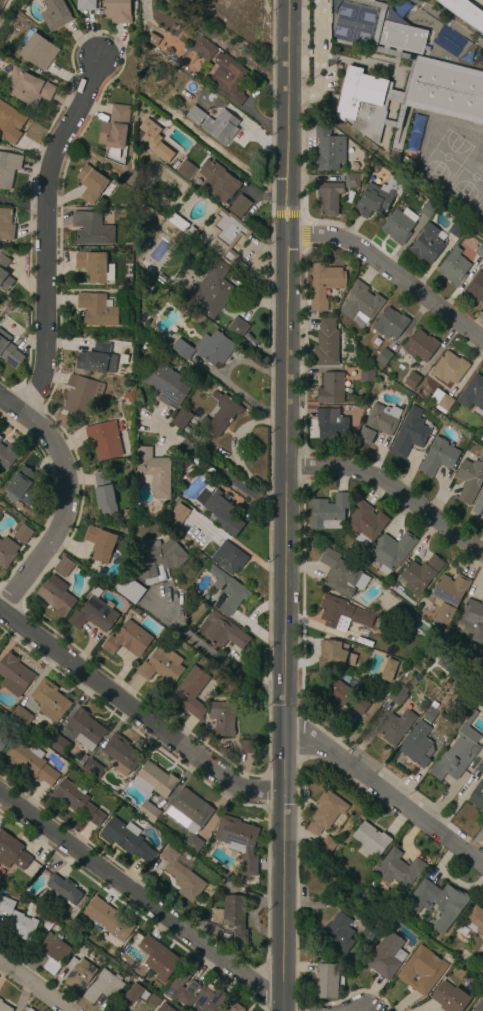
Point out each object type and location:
building: (85, 5)
building: (117, 11)
building: (465, 13)
building: (56, 14)
park: (354, 14)
park: (349, 33)
building: (153, 39)
building: (203, 48)
building: (37, 49)
building: (5, 64)
building: (227, 78)
building: (408, 83)
building: (28, 87)
building: (195, 115)
building: (10, 123)
building: (221, 127)
building: (115, 129)
building: (141, 136)
building: (328, 150)
park: (445, 157)
building: (8, 169)
building: (352, 181)
building: (213, 182)
building: (91, 184)
park: (466, 186)
building: (350, 197)
building: (330, 198)
building: (378, 198)
road: (22, 203)
park: (480, 205)
building: (427, 210)
road: (284, 213)
building: (6, 225)
building: (399, 225)
building: (183, 226)
building: (455, 228)
building: (92, 229)
road: (44, 232)
building: (228, 234)
road: (303, 236)
building: (427, 245)
building: (479, 251)
building: (95, 266)
building: (455, 268)
building: (4, 270)
road: (389, 270)
building: (324, 285)
building: (475, 289)
building: (212, 290)
building: (362, 304)
building: (96, 310)
building: (390, 324)
building: (238, 327)
building: (327, 344)
building: (421, 346)
building: (207, 348)
building: (9, 352)
building: (383, 357)
building: (98, 358)
building: (450, 368)
building: (367, 375)
building: (408, 377)
building: (166, 384)
building: (332, 388)
building: (348, 388)
building: (472, 392)
building: (81, 394)
building: (441, 401)
building: (221, 415)
building: (182, 419)
building: (379, 423)
building: (331, 428)
building: (410, 433)
building: (0, 438)
building: (104, 439)
building: (482, 439)
building: (7, 454)
building: (438, 457)
building: (189, 469)
building: (153, 472)
building: (470, 479)
road: (235, 483)
building: (22, 487)
road: (391, 487)
building: (104, 492)
road: (66, 499)
road: (283, 505)
building: (479, 505)
building: (1, 506)
building: (220, 510)
building: (329, 511)
building: (178, 515)
building: (366, 523)
building: (22, 534)
building: (209, 542)
building: (100, 544)
building: (391, 551)
building: (7, 552)
building: (158, 558)
building: (233, 560)
building: (64, 566)
building: (421, 574)
building: (342, 575)
building: (129, 588)
building: (228, 591)
building: (56, 595)
building: (448, 596)
building: (94, 612)
building: (342, 614)
building: (473, 619)
building: (222, 631)
building: (128, 640)
road: (213, 652)
building: (334, 655)
building: (162, 666)
building: (389, 671)
building: (14, 675)
building: (190, 692)
building: (396, 695)
building: (347, 697)
building: (49, 700)
building: (434, 704)
road: (136, 715)
building: (430, 715)
building: (21, 717)
building: (223, 717)
building: (395, 726)
building: (85, 729)
building: (2, 740)
building: (58, 744)
building: (418, 745)
building: (246, 746)
building: (121, 754)
building: (455, 755)
building: (79, 760)
building: (30, 762)
building: (481, 767)
building: (93, 769)
building: (155, 780)
road: (385, 792)
building: (477, 796)
building: (77, 800)
building: (148, 811)
building: (190, 811)
building: (327, 812)
building: (126, 838)
building: (371, 839)
building: (240, 842)
building: (194, 844)
building: (325, 848)
building: (12, 852)
building: (398, 869)
building: (182, 874)
building: (64, 889)
road: (138, 897)
building: (438, 902)
building: (108, 918)
building: (233, 918)
building: (475, 919)
building: (17, 920)
building: (48, 922)
building: (65, 922)
building: (369, 931)
building: (340, 933)
building: (52, 951)
building: (387, 957)
building: (158, 958)
building: (480, 966)
building: (423, 970)
building: (78, 974)
building: (327, 980)
building: (133, 985)
building: (103, 986)
road: (32, 987)
building: (196, 994)
building: (450, 998)
building: (479, 1006)
building: (4, 1007)
building: (163, 1007)
building: (234, 1007)
building: (29, 1009)

